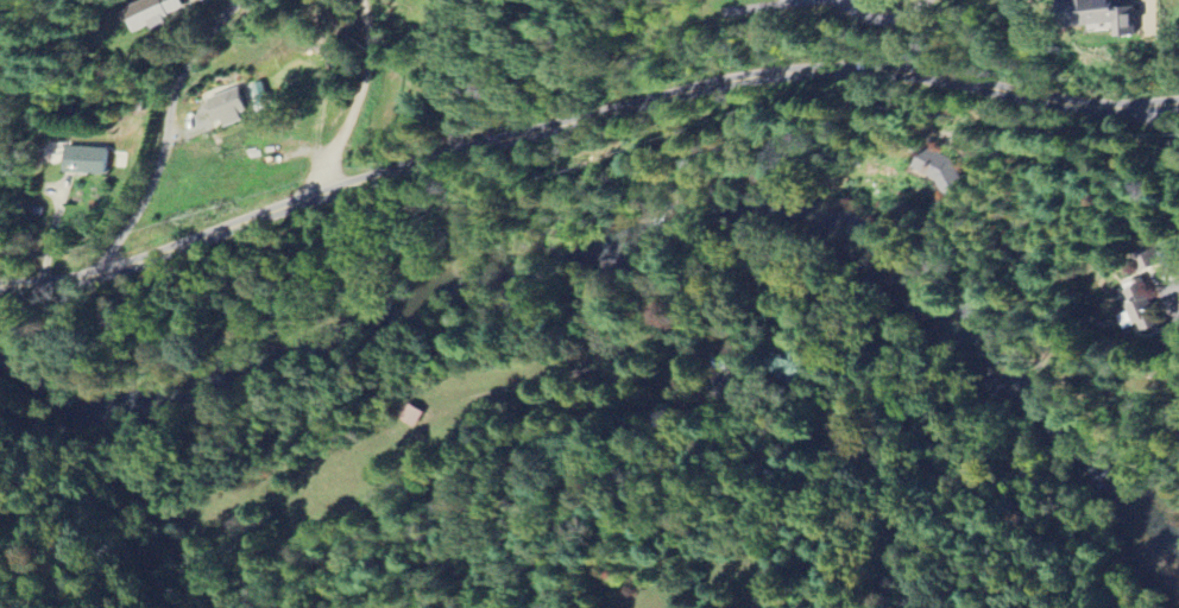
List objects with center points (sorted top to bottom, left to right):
road: (800, 1)
road: (777, 7)
building: (153, 12)
building: (1110, 14)
road: (889, 31)
road: (449, 75)
road: (353, 101)
building: (232, 108)
road: (581, 119)
road: (1165, 127)
road: (160, 133)
road: (1009, 148)
building: (88, 160)
building: (942, 169)
river: (633, 230)
road: (1172, 296)
building: (1147, 309)
building: (786, 363)
building: (414, 414)

